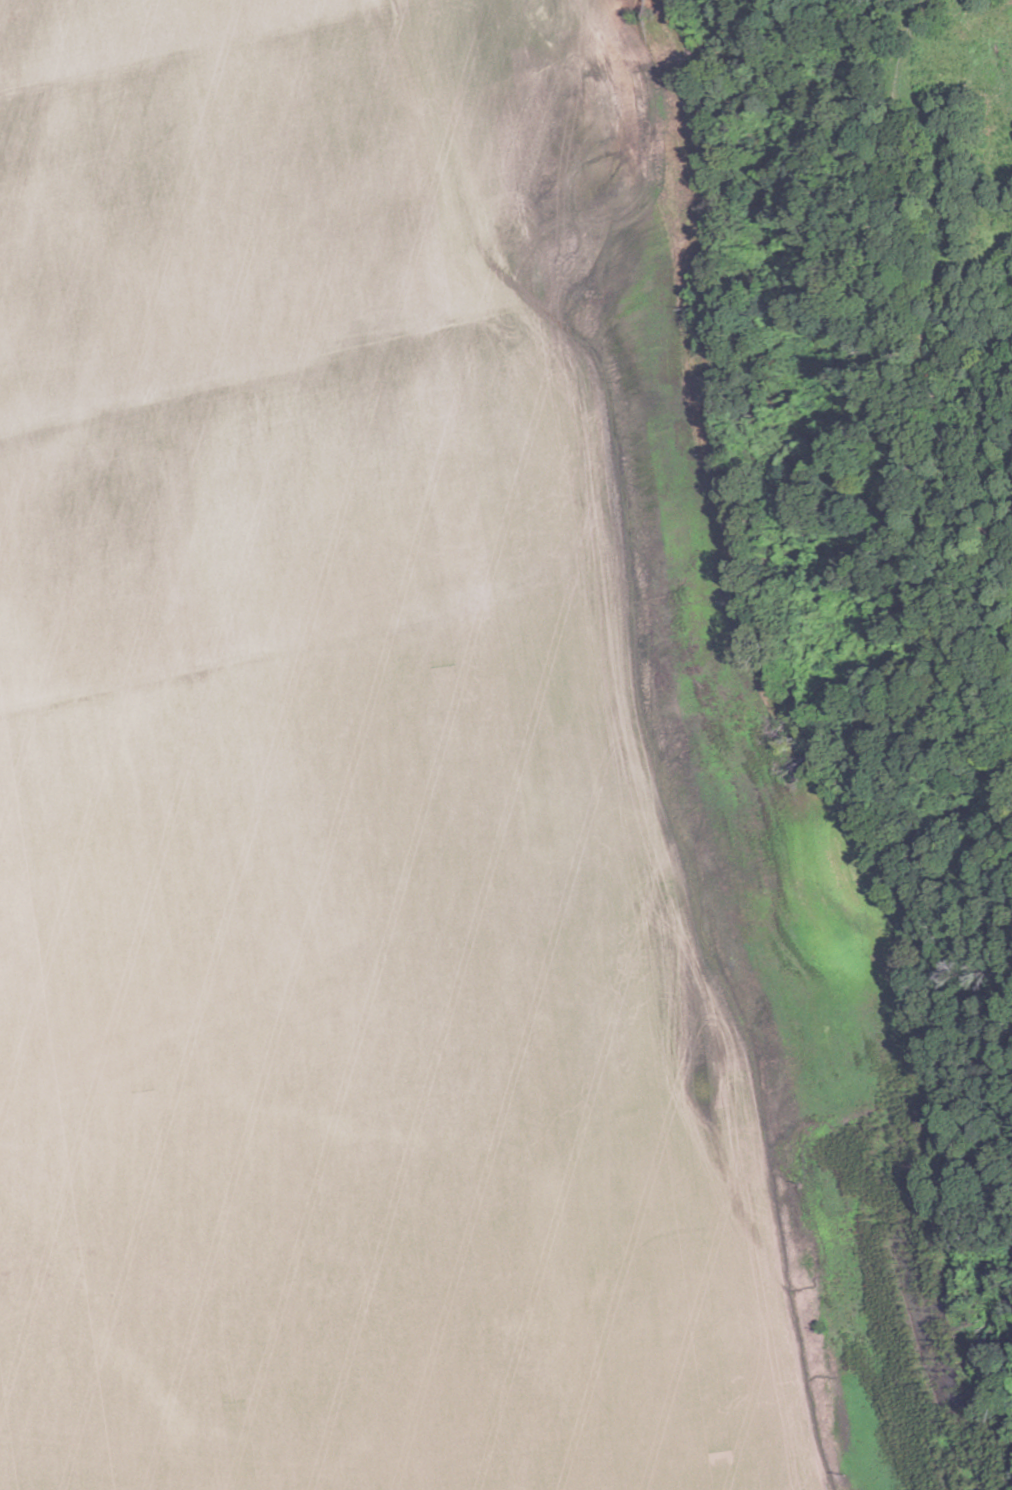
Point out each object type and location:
road: (948, 275)

